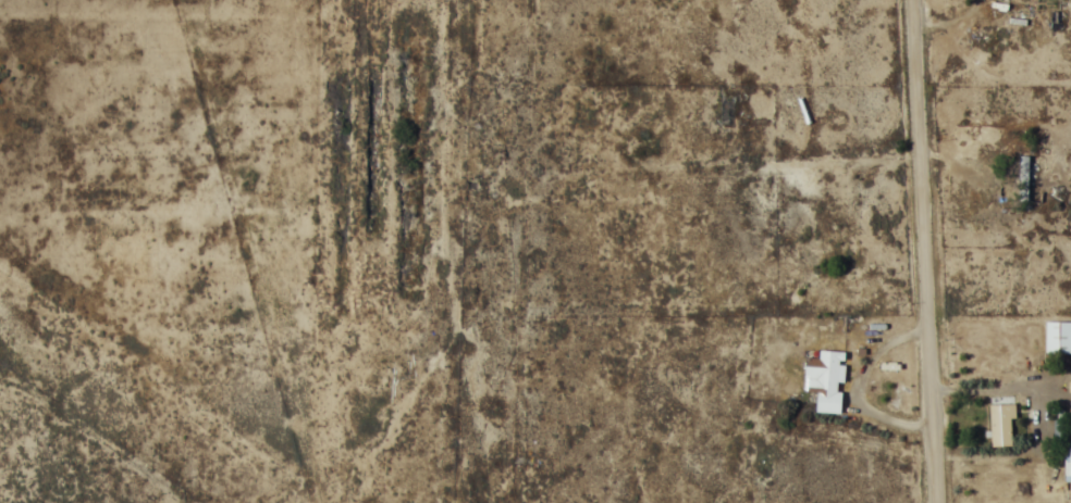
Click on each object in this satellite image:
road: (924, 251)
building: (1058, 337)
building: (825, 378)
building: (1001, 425)
building: (1059, 429)

